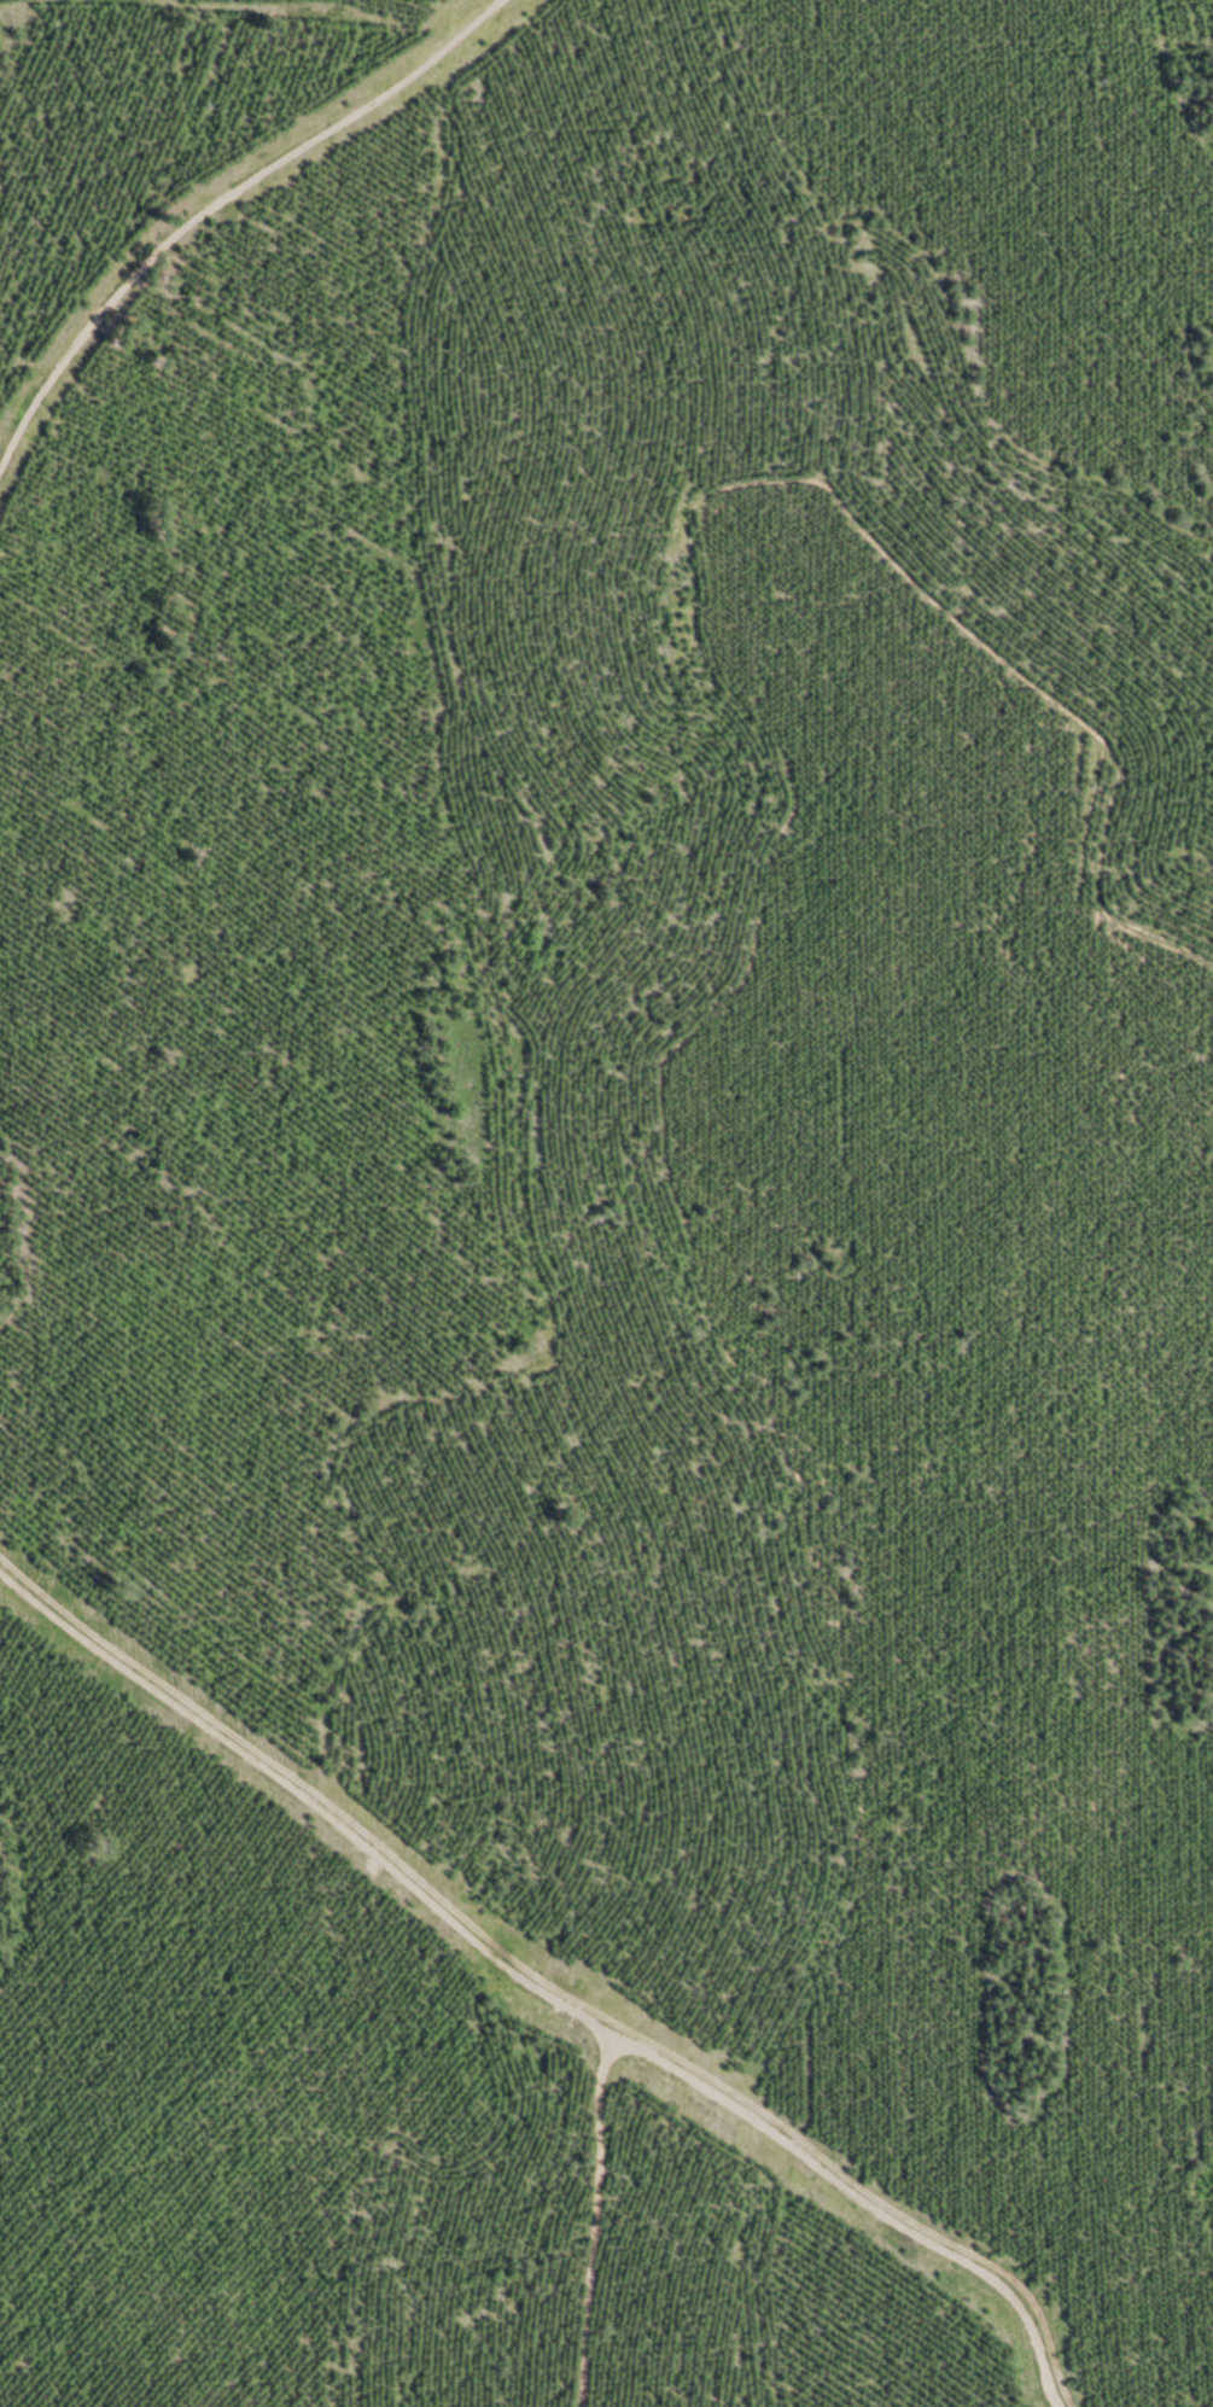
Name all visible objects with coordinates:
road: (216, 204)
road: (538, 1993)

